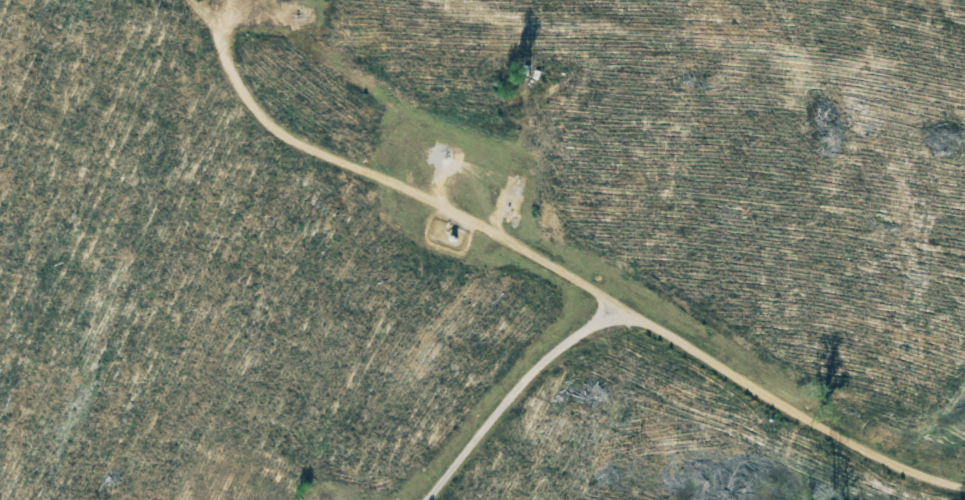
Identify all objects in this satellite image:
road: (558, 266)

